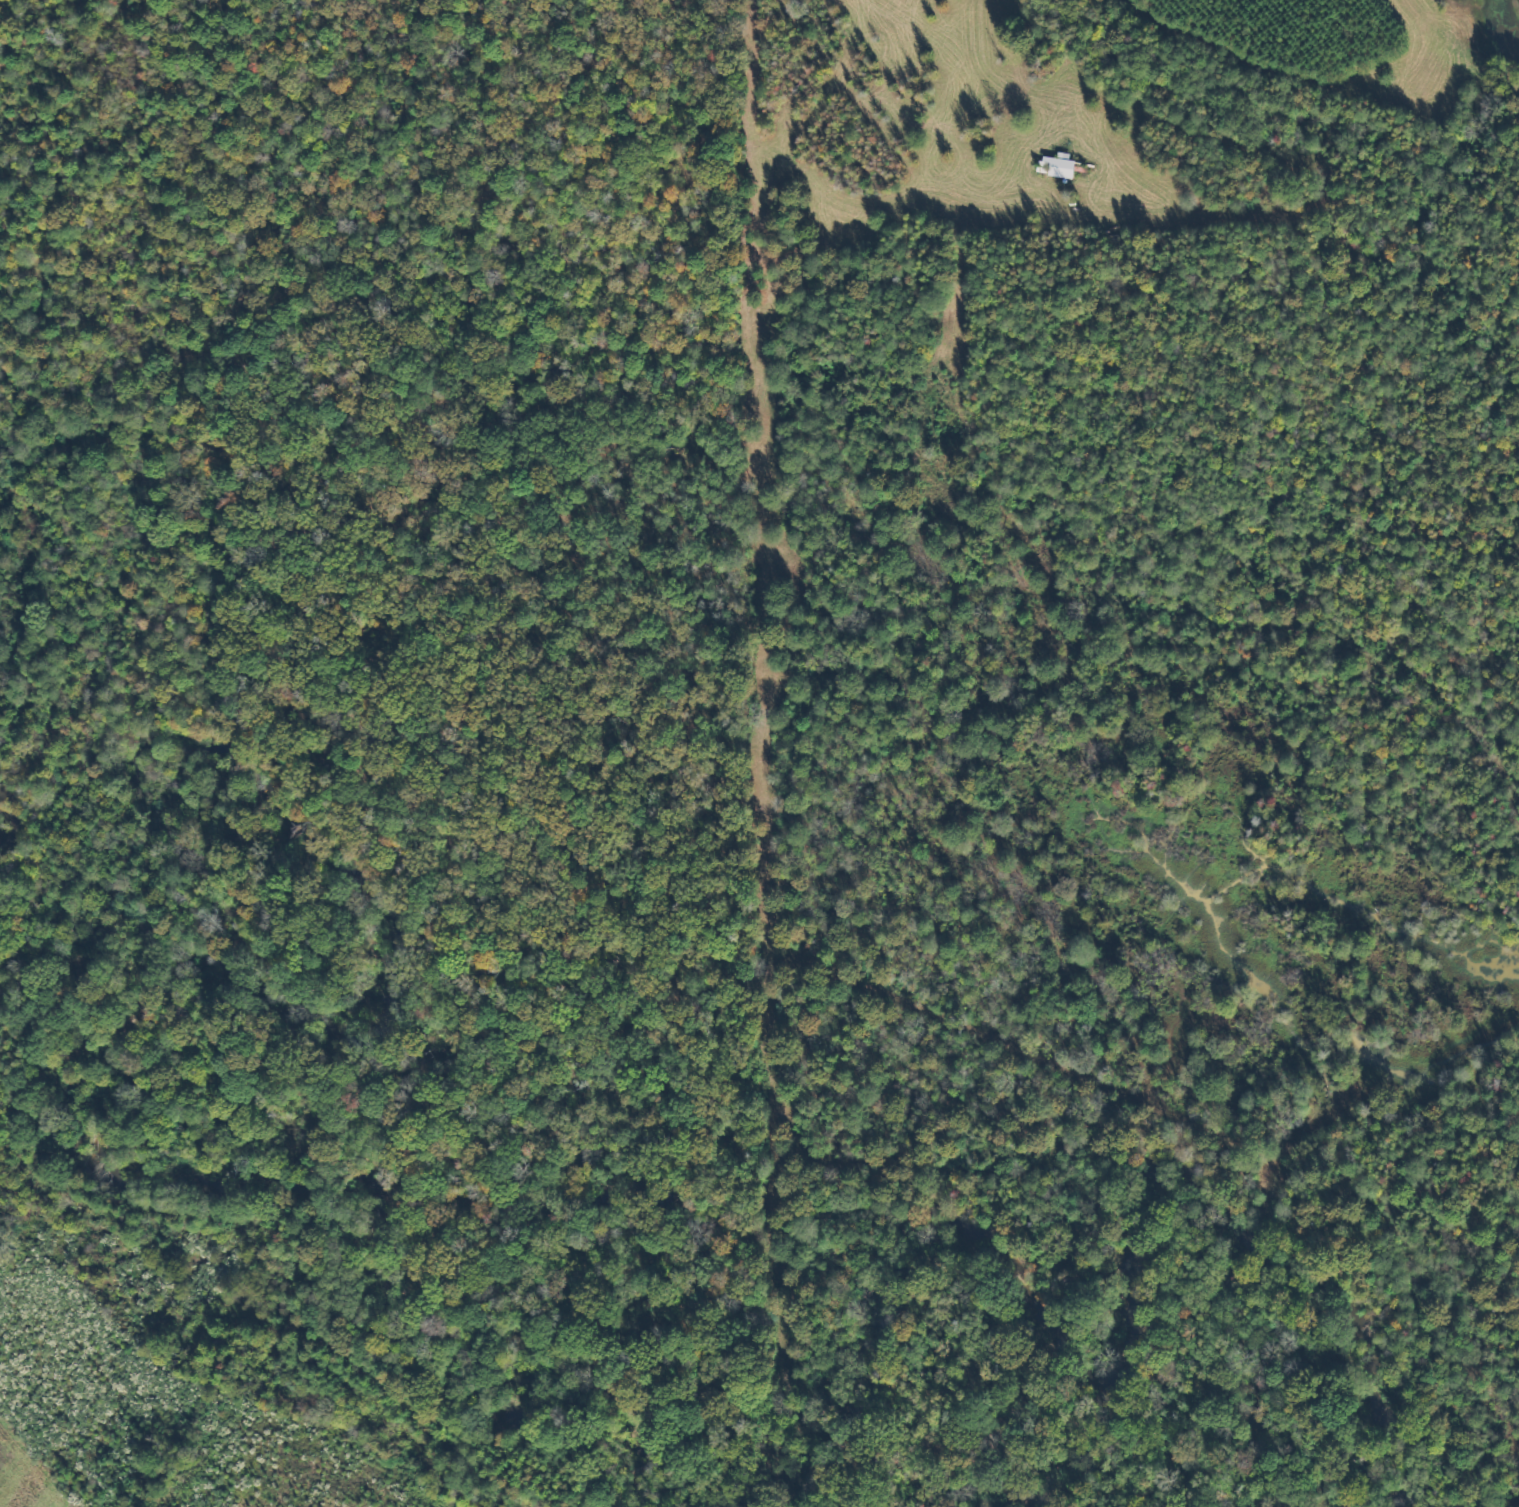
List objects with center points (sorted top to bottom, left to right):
building: (1061, 165)

